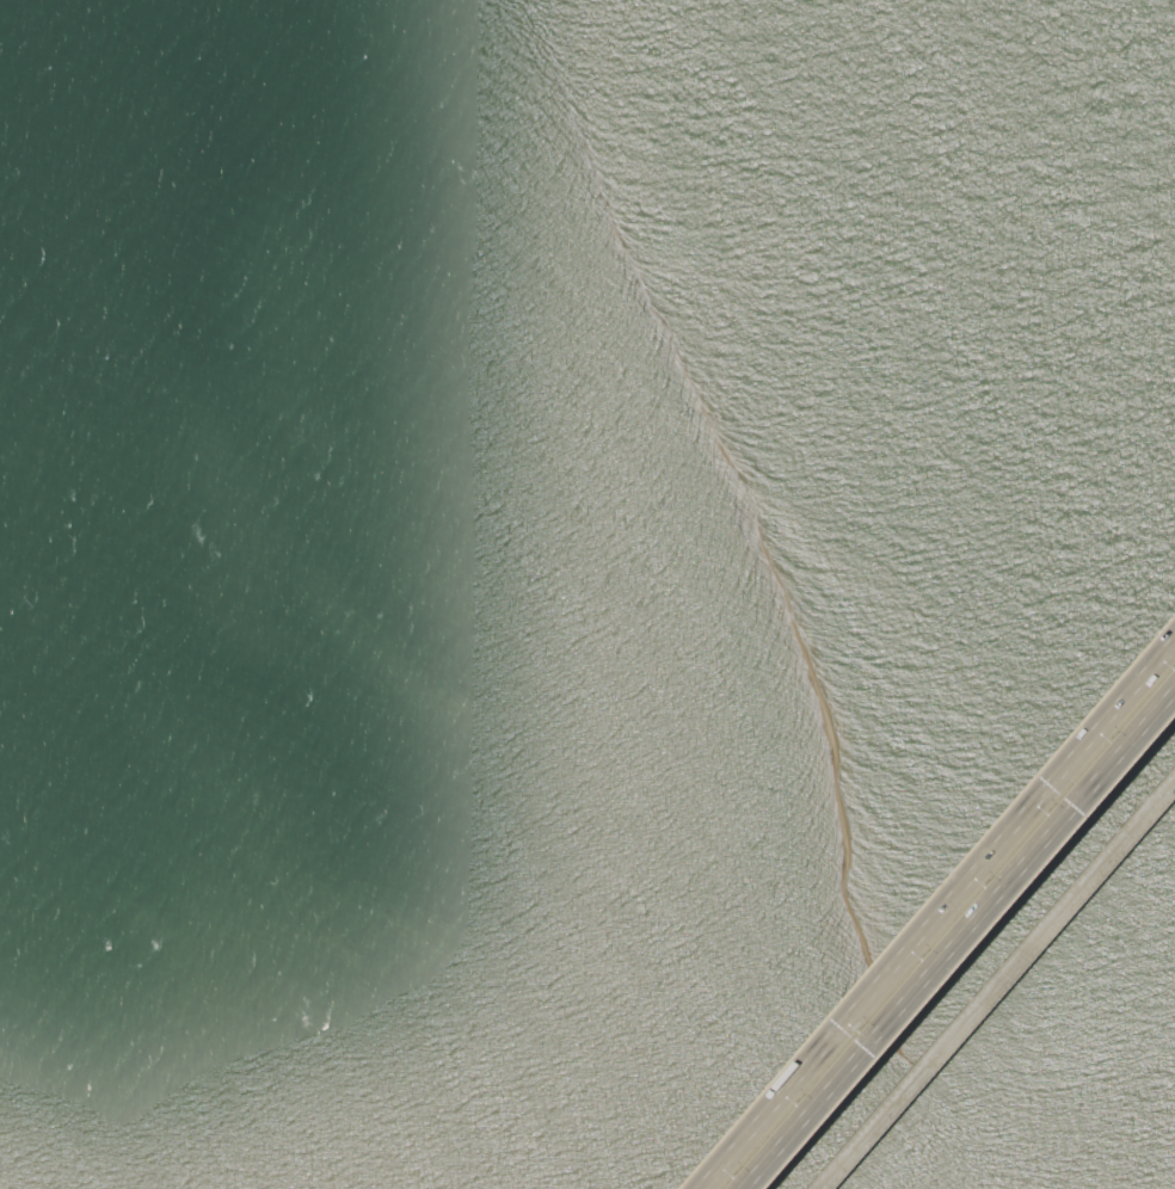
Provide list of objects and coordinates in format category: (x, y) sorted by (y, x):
road: (939, 917)
road: (960, 942)
pier: (995, 982)
road: (995, 982)

